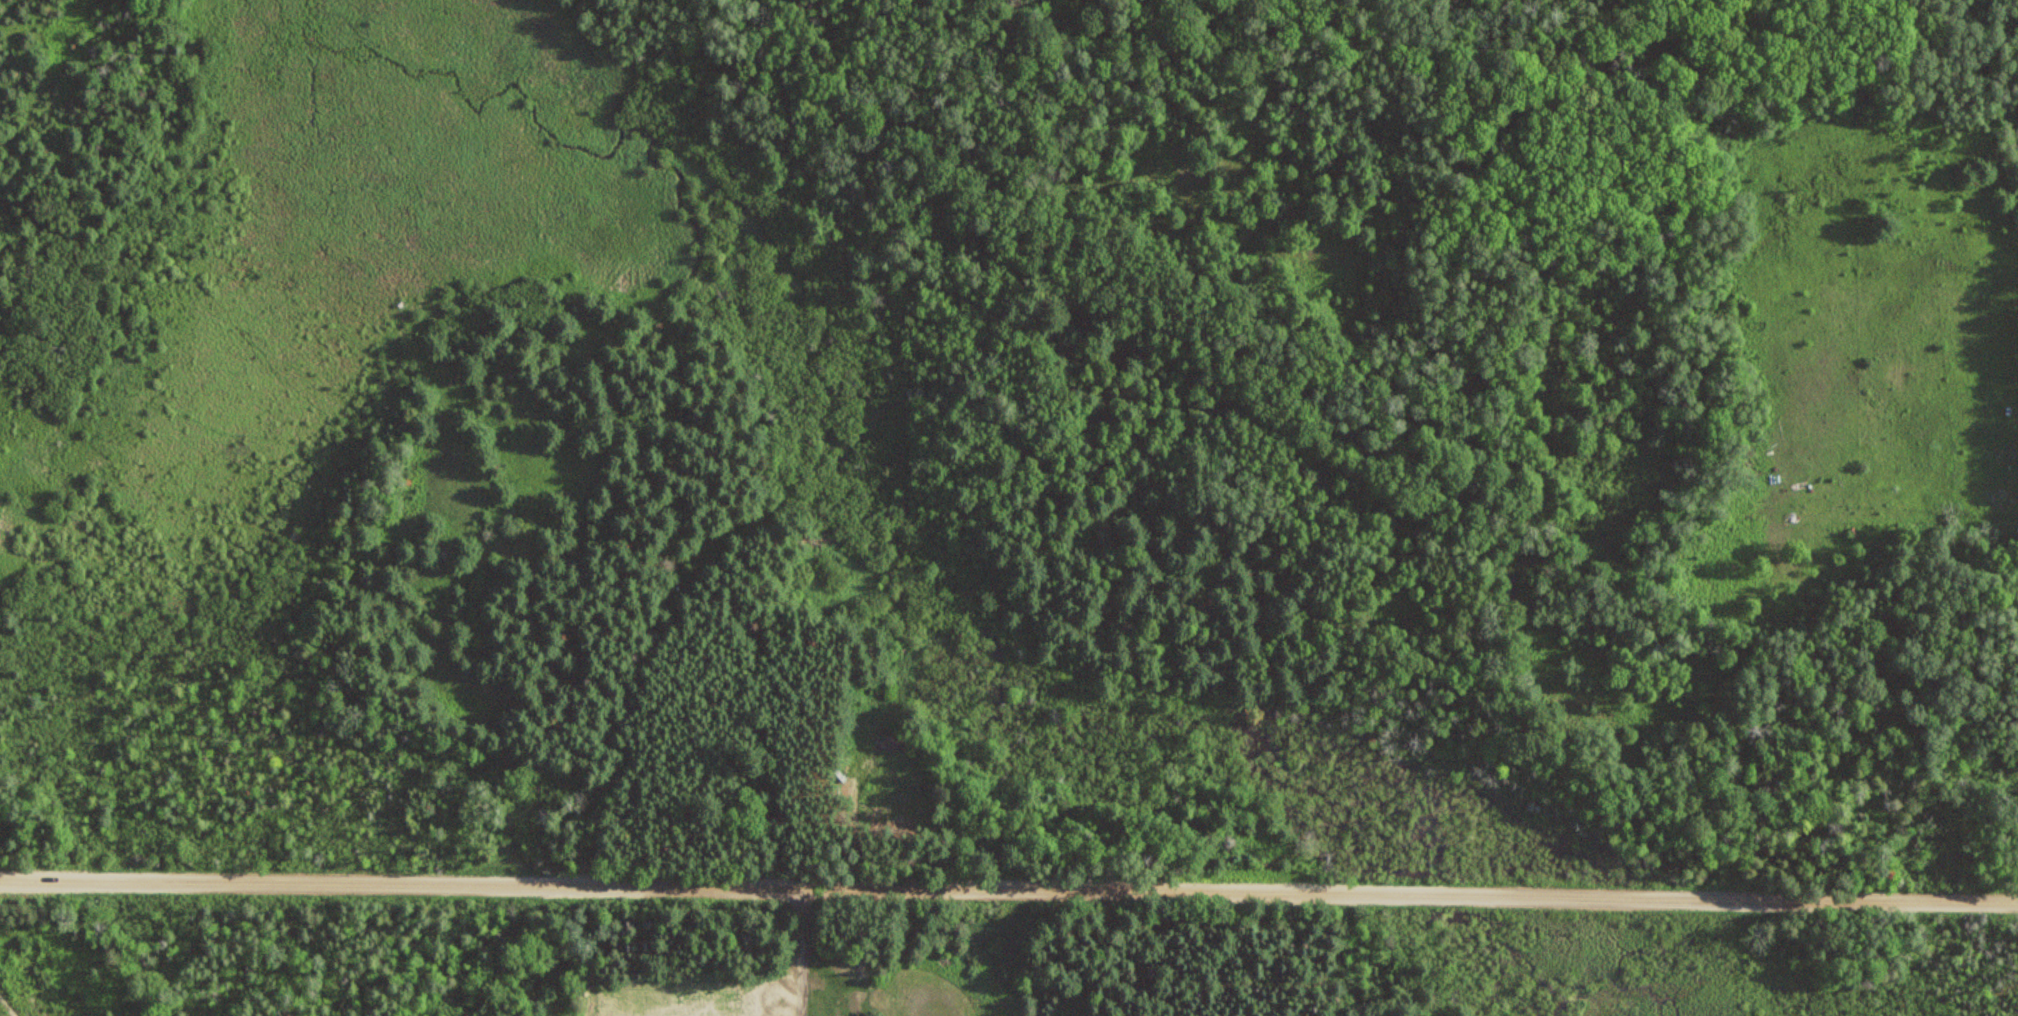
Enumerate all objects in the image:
road: (1009, 889)
park: (1018, 998)

